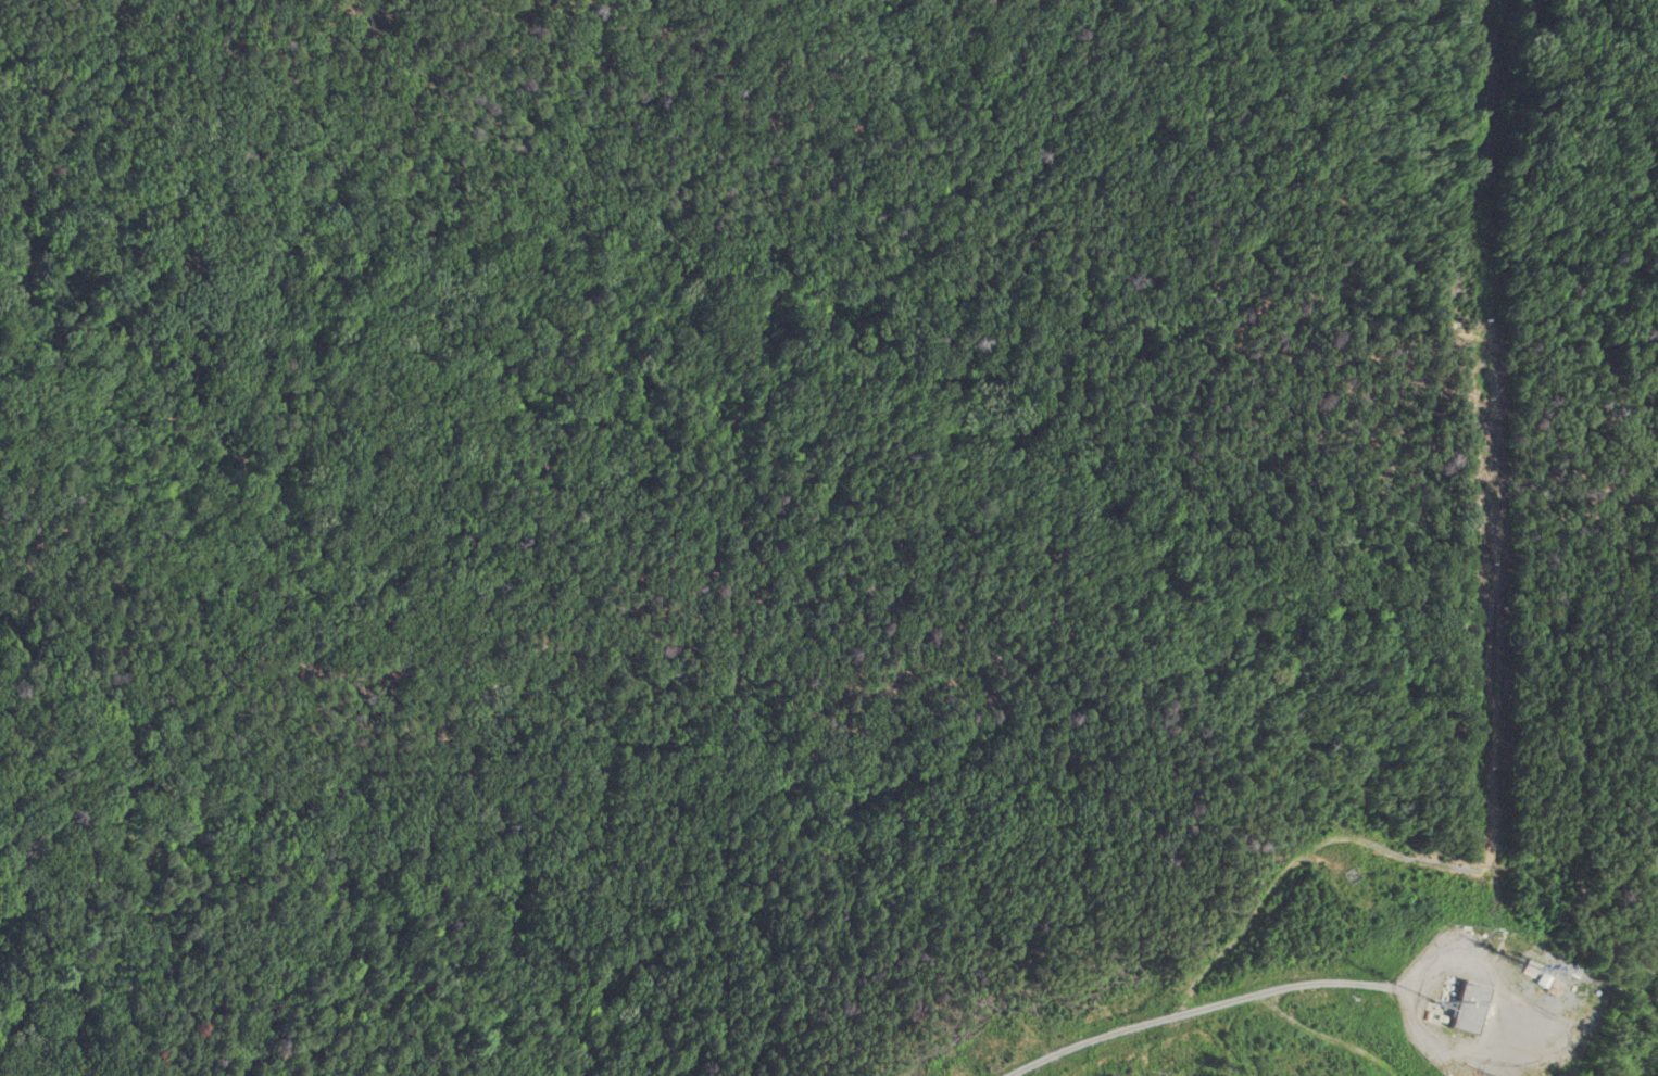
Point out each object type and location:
road: (1441, 346)
road: (18, 569)
road: (268, 683)
road: (59, 838)
road: (568, 964)
building: (1469, 1008)
road: (1159, 1022)

